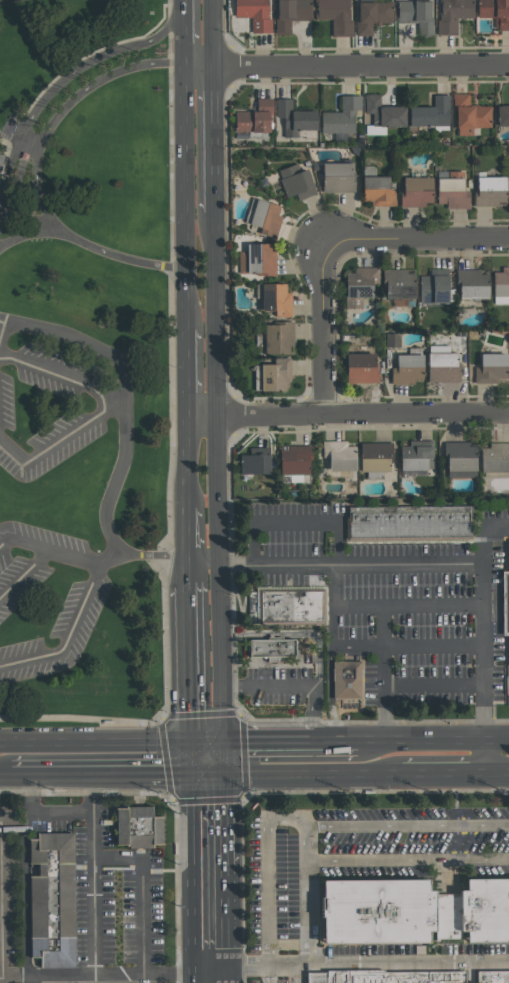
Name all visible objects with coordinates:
building: (495, 12)
building: (254, 13)
building: (336, 15)
building: (416, 15)
building: (452, 15)
building: (372, 16)
road: (187, 33)
road: (214, 33)
road: (348, 66)
road: (66, 80)
road: (89, 89)
building: (431, 113)
building: (469, 115)
building: (502, 115)
building: (341, 116)
building: (254, 118)
building: (295, 118)
road: (9, 138)
road: (215, 139)
building: (2, 161)
building: (23, 169)
toll booth: (8, 172)
building: (337, 177)
building: (296, 182)
road: (39, 191)
building: (378, 191)
building: (416, 191)
building: (452, 191)
building: (490, 191)
road: (187, 198)
building: (264, 217)
road: (415, 235)
road: (26, 236)
road: (90, 249)
building: (257, 259)
building: (398, 284)
building: (472, 285)
building: (359, 286)
building: (501, 286)
building: (433, 288)
building: (276, 299)
road: (217, 313)
road: (319, 326)
road: (2, 329)
building: (278, 338)
building: (392, 340)
building: (360, 349)
building: (441, 365)
park: (87, 368)
building: (361, 368)
building: (406, 369)
building: (491, 369)
road: (188, 372)
road: (61, 375)
building: (273, 375)
road: (123, 405)
parking lot: (6, 414)
road: (203, 415)
road: (364, 415)
road: (170, 441)
road: (60, 443)
building: (339, 455)
building: (417, 455)
building: (375, 457)
building: (495, 457)
building: (294, 459)
road: (188, 460)
building: (459, 460)
building: (254, 463)
building: (298, 478)
road: (220, 489)
road: (294, 523)
building: (411, 523)
road: (497, 526)
road: (188, 533)
road: (50, 552)
road: (151, 554)
road: (205, 562)
road: (237, 564)
road: (369, 564)
road: (189, 571)
road: (24, 575)
building: (506, 601)
road: (434, 606)
parking lot: (83, 607)
building: (293, 607)
road: (336, 607)
road: (293, 633)
road: (485, 633)
road: (69, 641)
road: (435, 644)
building: (272, 650)
road: (222, 654)
road: (190, 663)
road: (385, 674)
building: (349, 680)
road: (296, 685)
road: (160, 717)
road: (497, 740)
road: (421, 741)
road: (336, 742)
road: (269, 743)
traffic signals: (223, 744)
road: (111, 745)
traffic signals: (191, 745)
road: (486, 757)
road: (192, 760)
road: (223, 760)
road: (445, 774)
road: (498, 774)
road: (313, 775)
road: (77, 776)
road: (167, 776)
traffic signals: (192, 776)
road: (207, 776)
traffic signals: (223, 776)
road: (6, 777)
road: (243, 791)
road: (61, 815)
road: (224, 818)
road: (407, 825)
road: (11, 828)
building: (138, 828)
road: (407, 860)
road: (267, 873)
road: (23, 874)
road: (92, 874)
road: (192, 875)
road: (139, 891)
parking lot: (289, 894)
road: (305, 896)
building: (53, 901)
road: (0, 902)
road: (224, 905)
building: (413, 913)
road: (224, 957)
road: (366, 965)
road: (208, 970)
road: (70, 974)
road: (167, 974)
road: (225, 975)
road: (267, 975)
road: (293, 975)
building: (493, 977)
road: (192, 978)
building: (389, 978)

